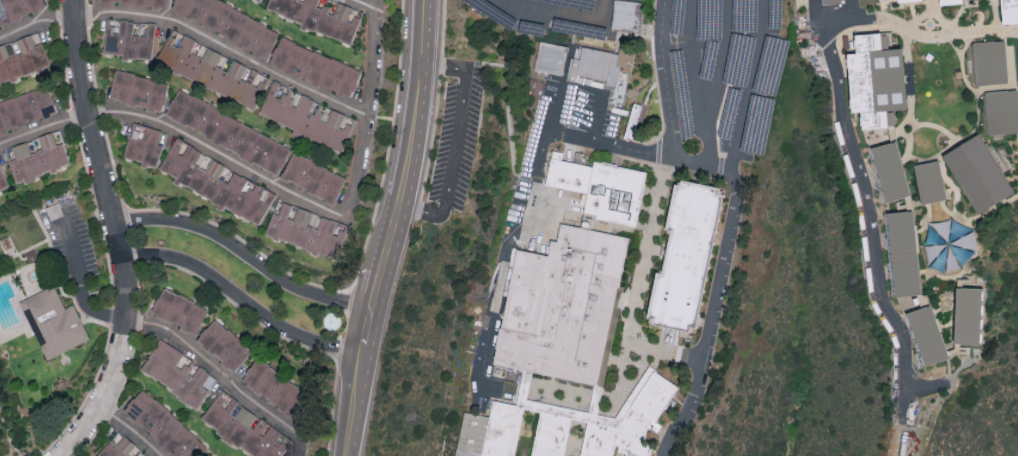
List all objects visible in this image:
building: (898, 0)
building: (829, 1)
building: (949, 1)
building: (148, 3)
road: (365, 4)
building: (17, 9)
building: (989, 10)
building: (1009, 10)
building: (626, 14)
building: (322, 15)
road: (570, 16)
parking lot: (574, 17)
building: (230, 24)
road: (188, 29)
road: (830, 29)
building: (129, 37)
road: (679, 44)
road: (695, 53)
road: (726, 54)
building: (21, 56)
road: (373, 60)
building: (551, 60)
building: (997, 61)
building: (600, 65)
building: (315, 66)
building: (211, 68)
road: (474, 69)
parking lot: (725, 72)
road: (668, 78)
building: (875, 79)
road: (755, 85)
building: (138, 89)
road: (418, 105)
building: (26, 108)
building: (1002, 110)
building: (936, 114)
building: (307, 116)
road: (601, 117)
building: (633, 120)
building: (228, 130)
road: (509, 133)
parking lot: (459, 134)
road: (709, 135)
building: (144, 143)
road: (460, 144)
road: (611, 145)
building: (37, 155)
road: (223, 160)
road: (540, 163)
road: (704, 164)
building: (890, 170)
building: (313, 176)
building: (996, 179)
building: (2, 181)
building: (217, 181)
building: (929, 181)
building: (601, 189)
road: (541, 219)
road: (871, 225)
road: (119, 234)
parking lot: (70, 245)
building: (903, 252)
road: (245, 253)
building: (686, 256)
road: (79, 287)
road: (642, 289)
road: (243, 300)
building: (561, 307)
building: (179, 309)
road: (493, 309)
road: (712, 315)
building: (967, 315)
fountain: (330, 323)
building: (52, 324)
road: (363, 330)
building: (927, 334)
building: (223, 344)
building: (176, 372)
road: (228, 376)
building: (272, 385)
road: (926, 387)
building: (531, 410)
road: (136, 426)
building: (244, 427)
building: (120, 447)

